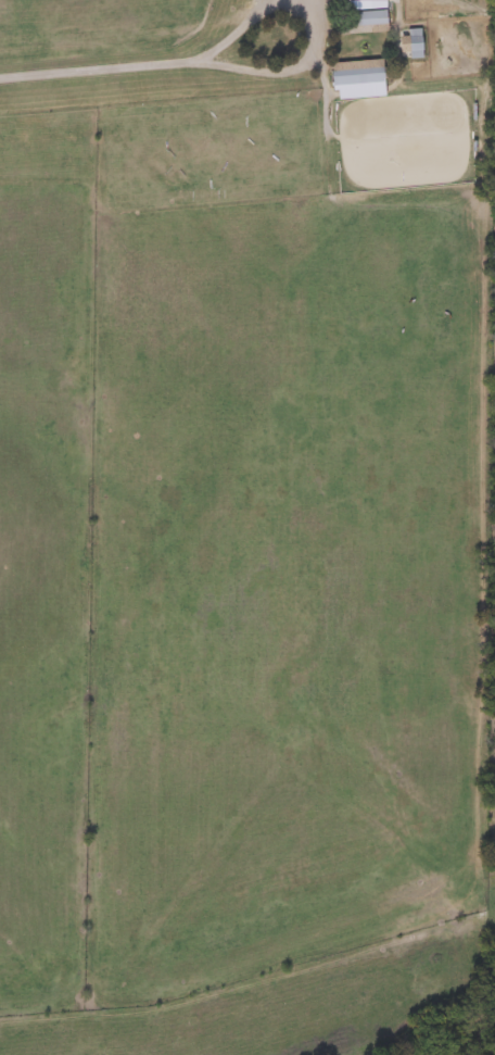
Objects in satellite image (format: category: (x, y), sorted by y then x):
building: (361, 16)
building: (407, 42)
road: (136, 61)
building: (350, 72)

